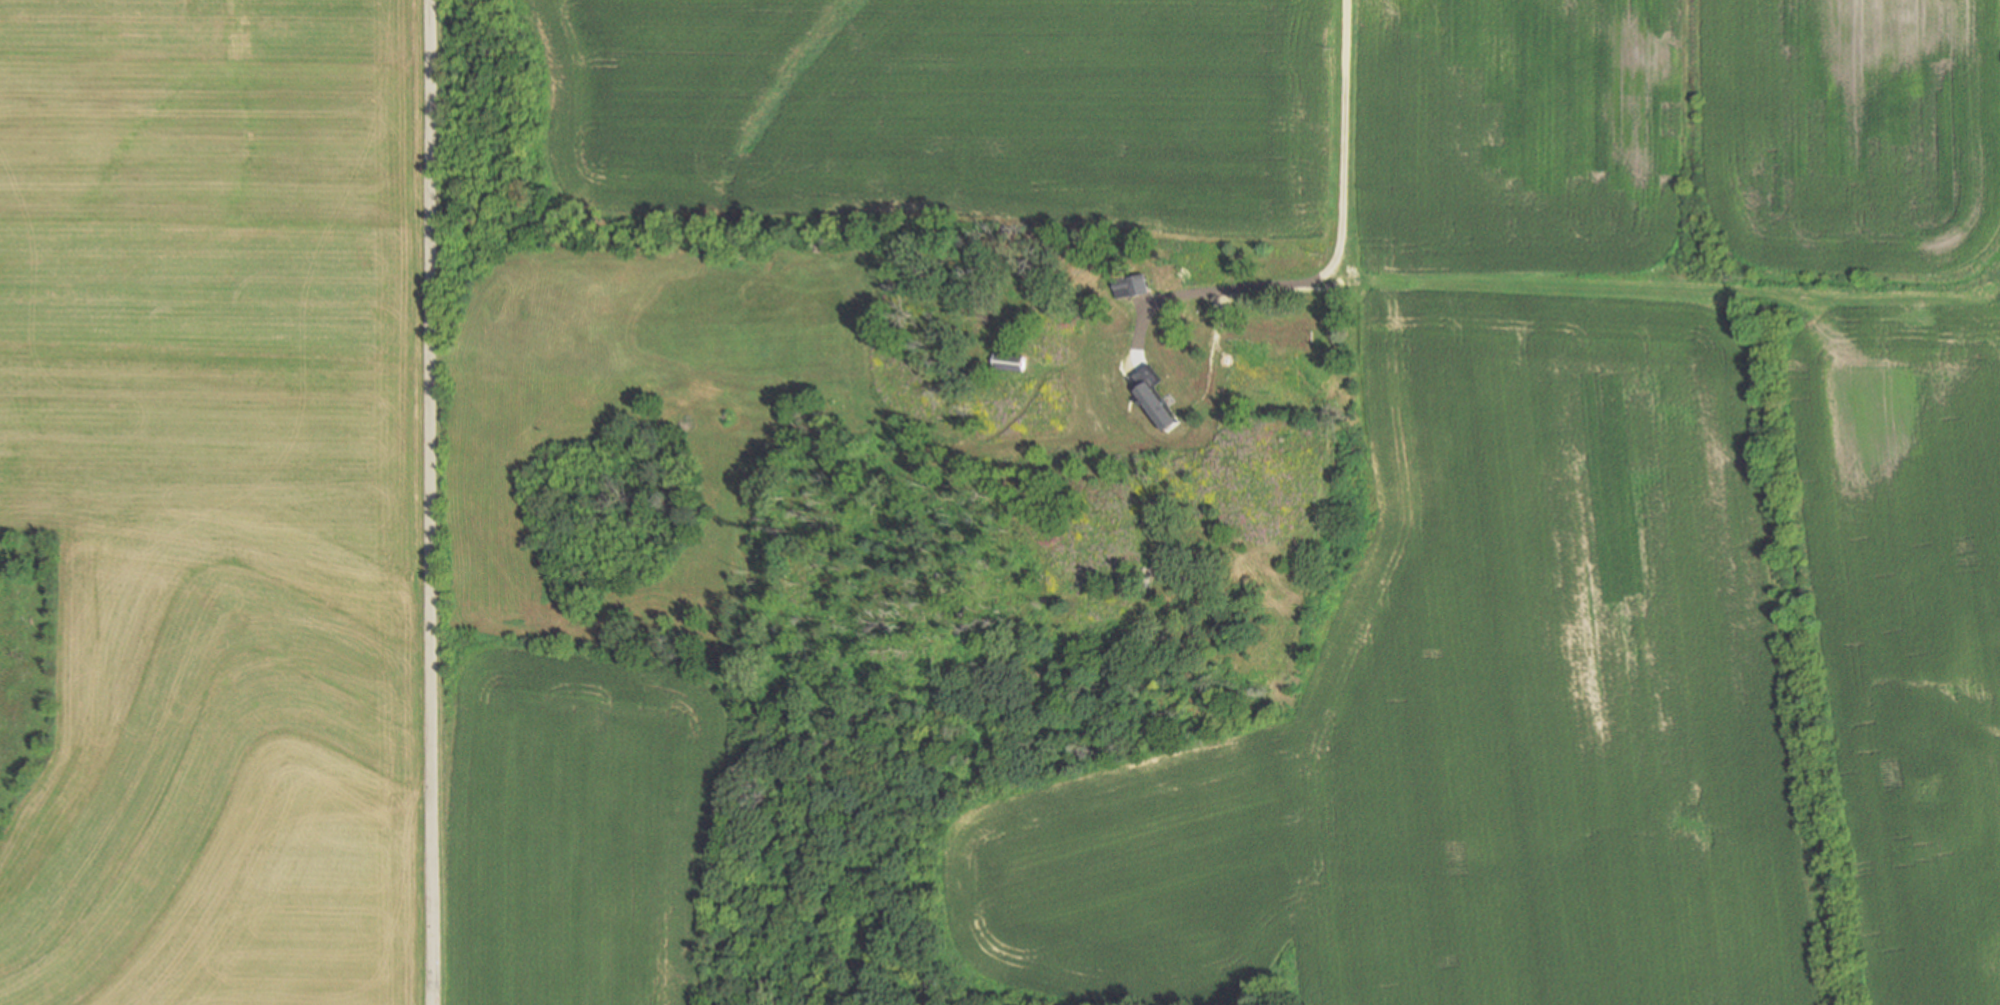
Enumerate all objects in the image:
road: (1337, 250)
building: (1283, 333)
building: (1171, 414)
building: (1150, 422)
road: (430, 502)

